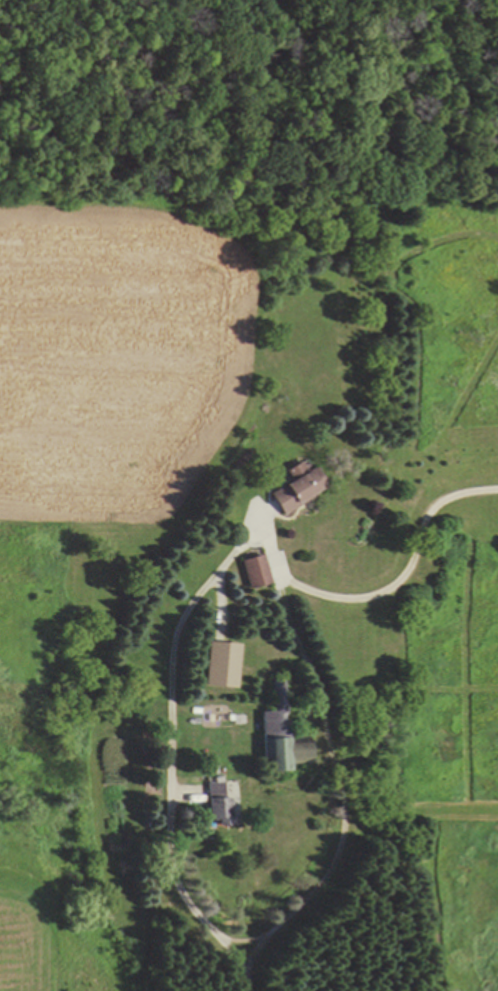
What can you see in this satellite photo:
building: (295, 487)
building: (254, 572)
road: (191, 599)
building: (218, 665)
building: (277, 735)
building: (215, 801)

